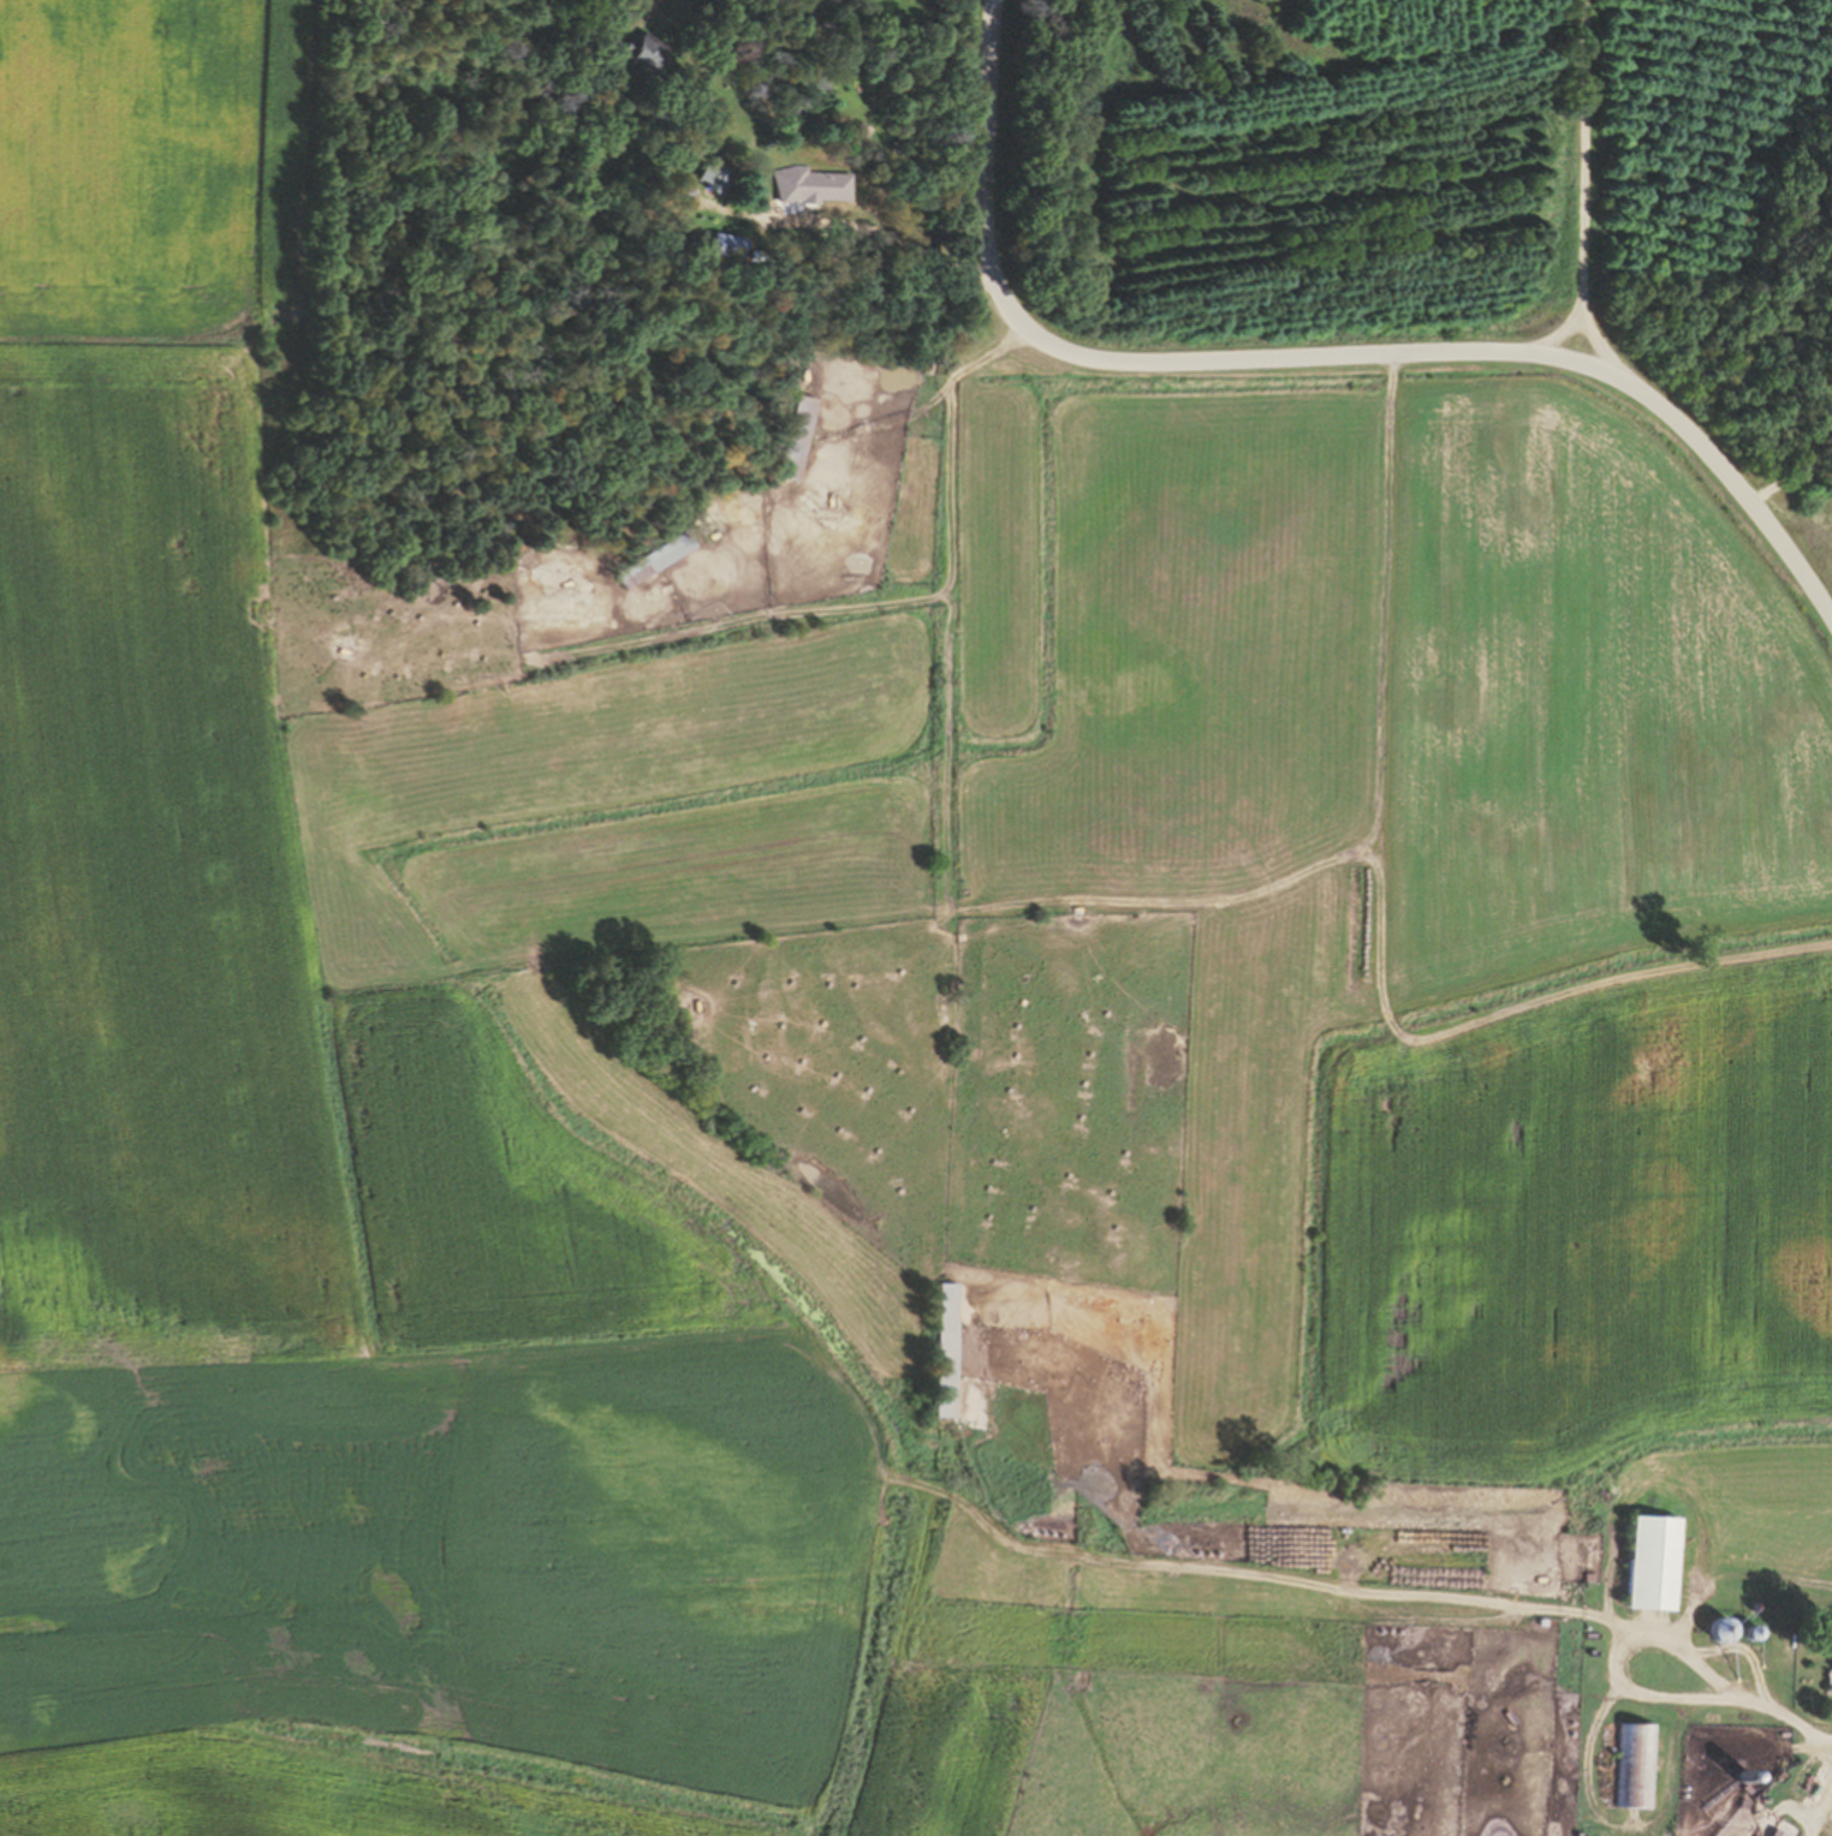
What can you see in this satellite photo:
building: (637, 52)
road: (991, 120)
building: (706, 178)
road: (1581, 183)
building: (727, 248)
road: (1594, 344)
road: (1437, 351)
road: (840, 368)
building: (793, 436)
road: (1789, 482)
building: (650, 560)
building: (1003, 1001)
building: (1000, 1030)
building: (941, 1351)
building: (1644, 1562)
building: (1714, 1628)
road: (1610, 1653)
building: (1831, 1664)
road: (1791, 1727)
building: (1635, 1765)
road: (1821, 1813)

